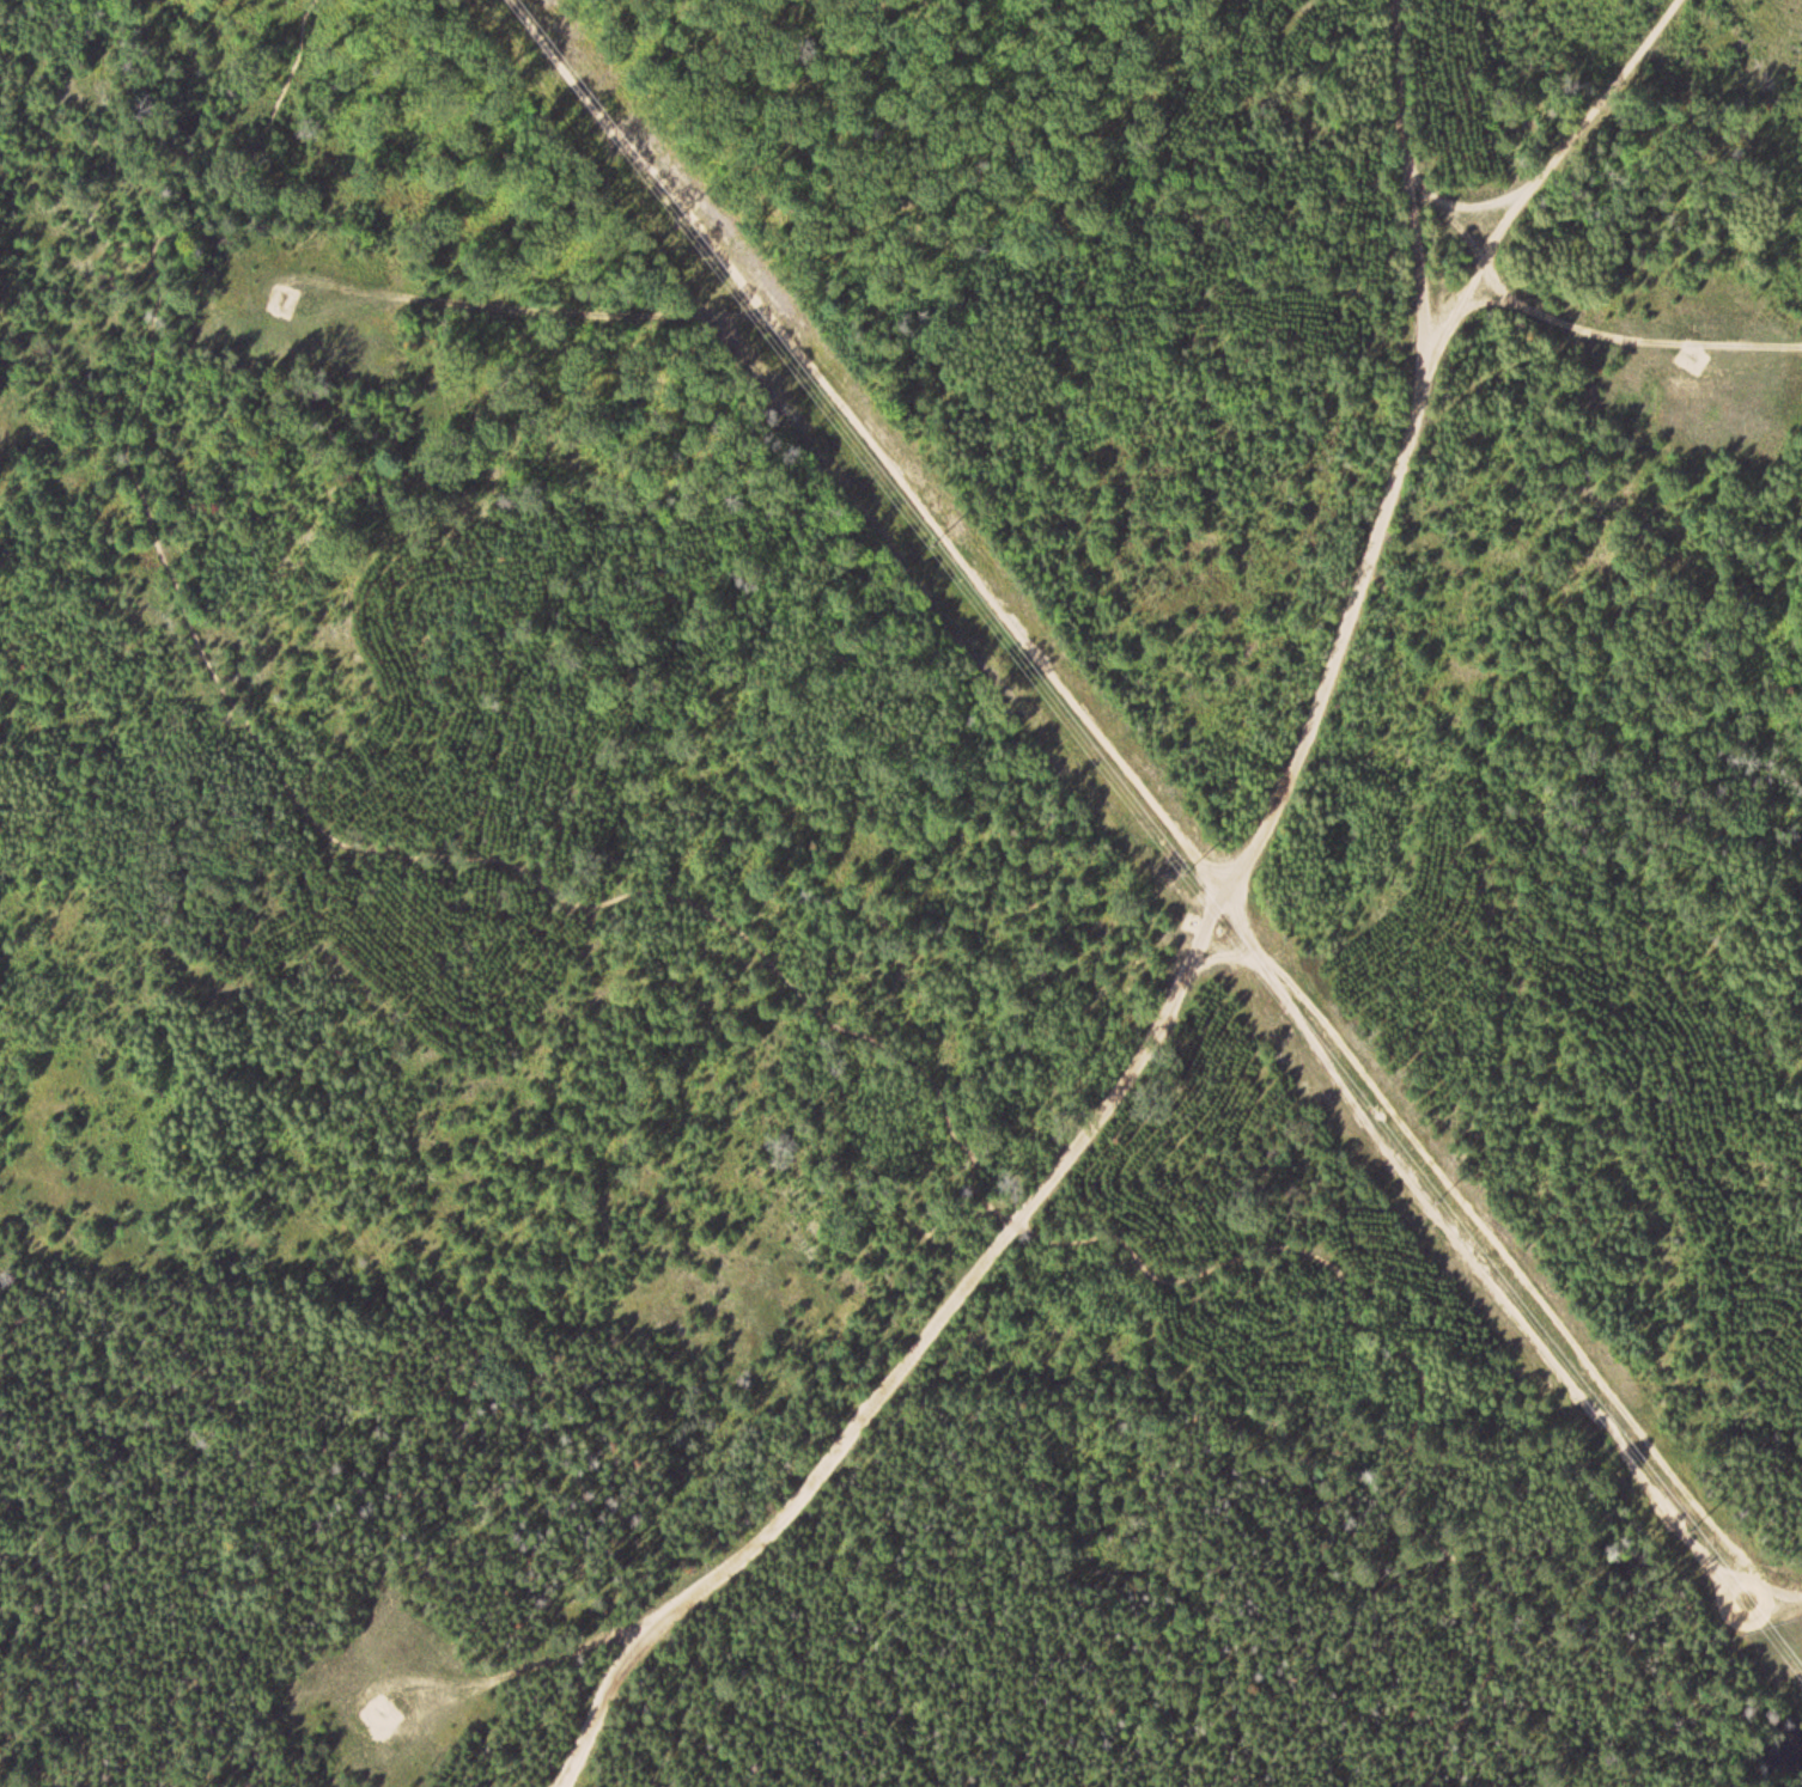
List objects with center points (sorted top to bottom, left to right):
road: (1559, 139)
road: (515, 312)
road: (1633, 340)
petroleum well: (1696, 361)
road: (1164, 805)
road: (722, 917)
road: (1182, 965)
petroleum well: (388, 1709)
building: (395, 1709)

